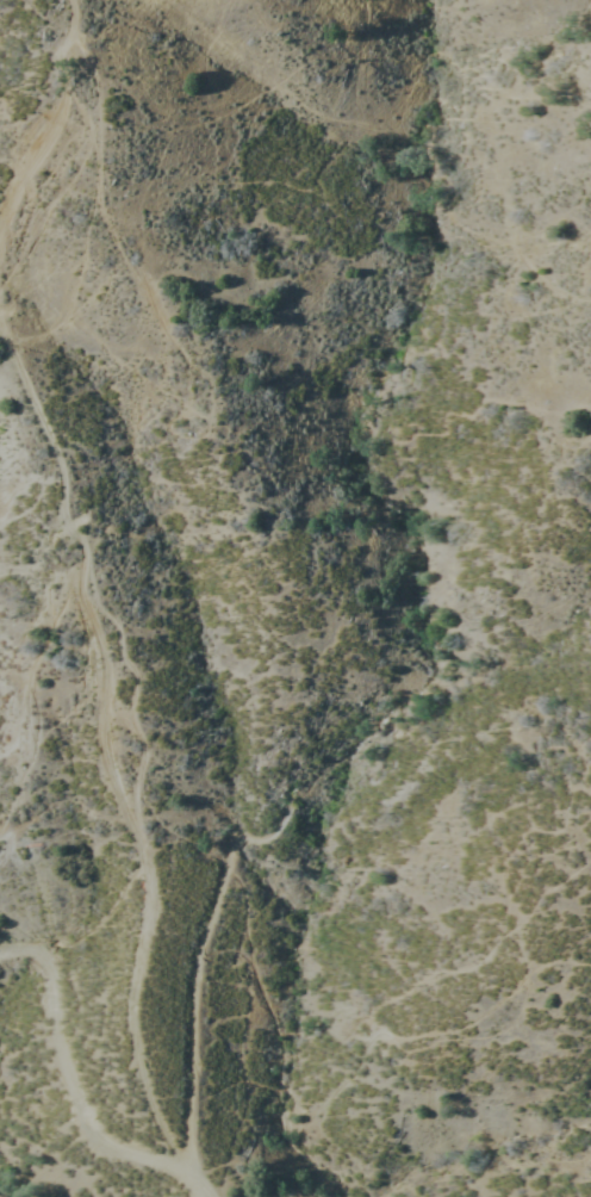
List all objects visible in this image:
road: (99, 565)
road: (75, 1084)

